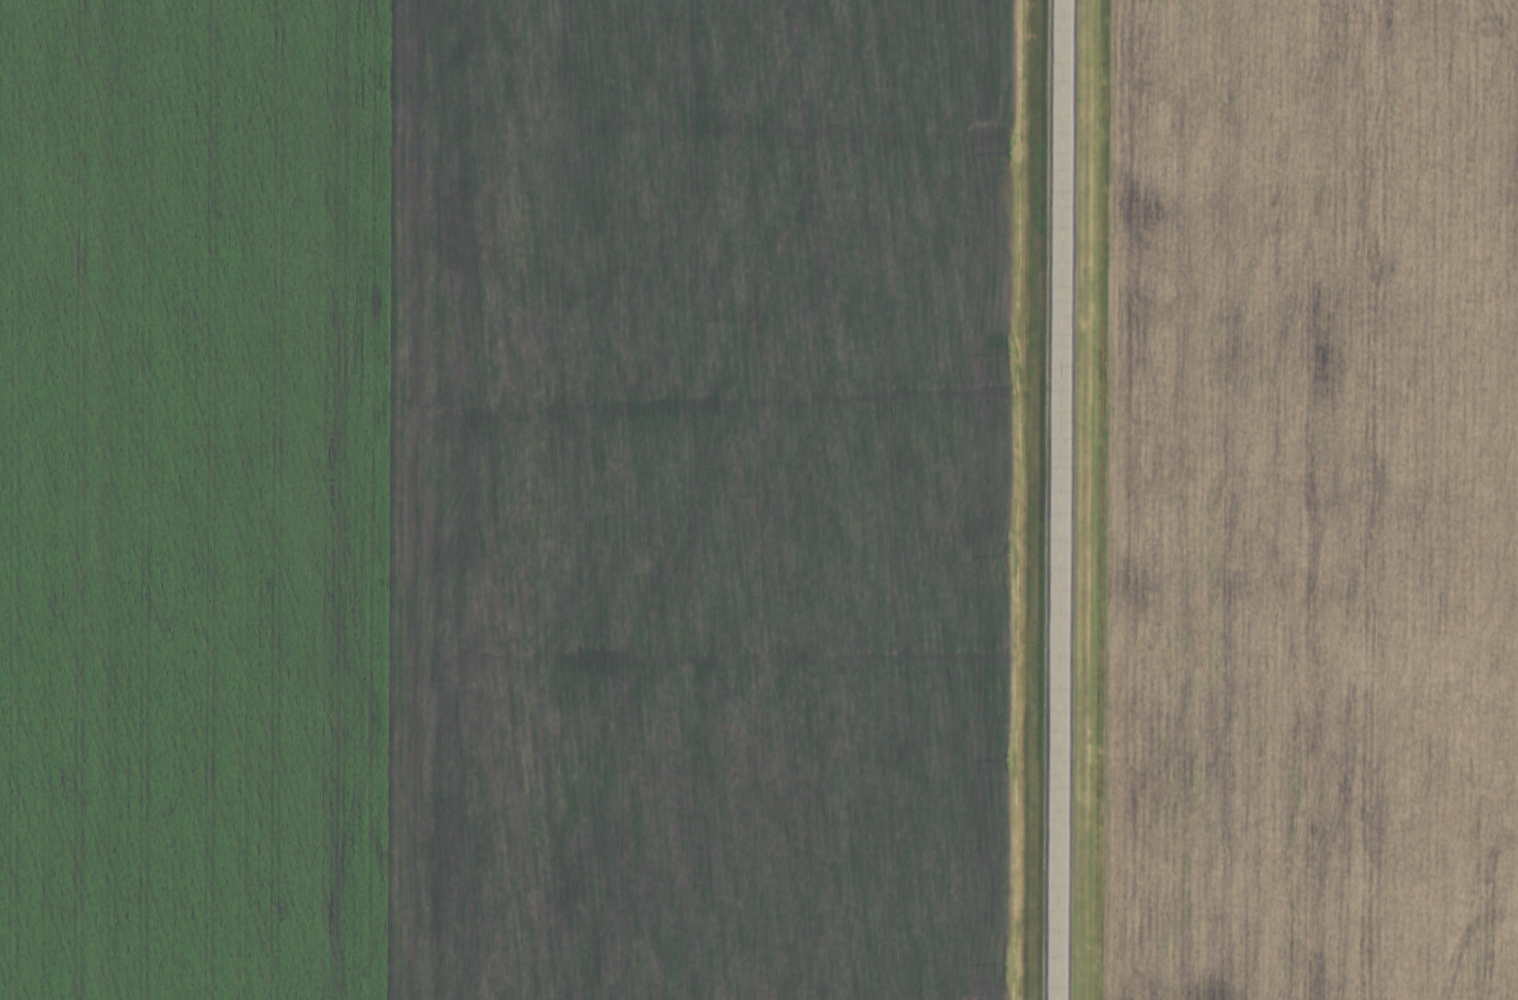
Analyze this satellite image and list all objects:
road: (1061, 500)

